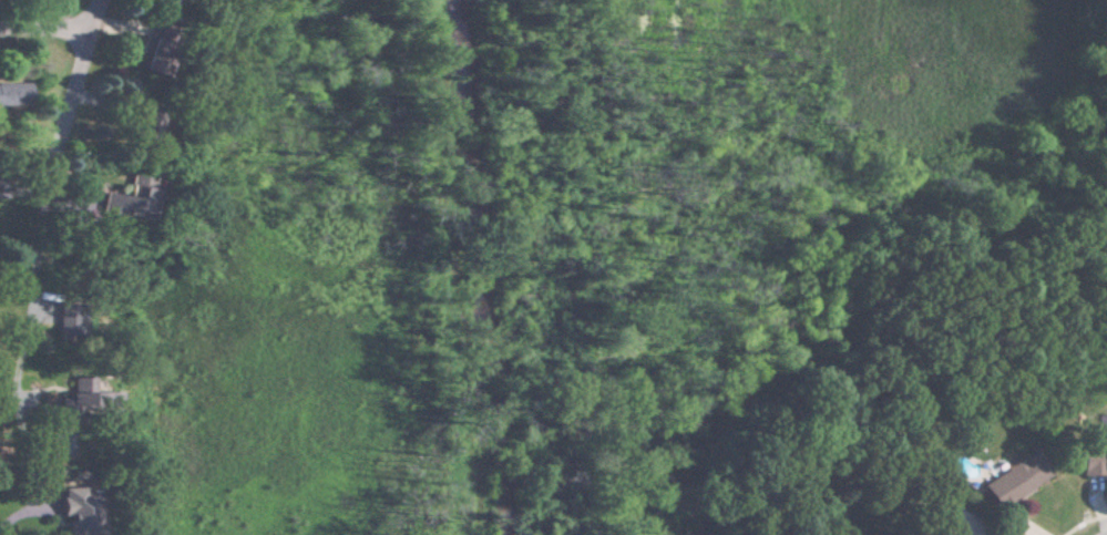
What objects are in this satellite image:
road: (47, 32)
road: (80, 81)
building: (13, 94)
building: (124, 197)
road: (34, 277)
building: (64, 320)
building: (83, 397)
building: (1091, 460)
building: (1008, 480)
road: (18, 510)
building: (73, 510)
building: (942, 534)

